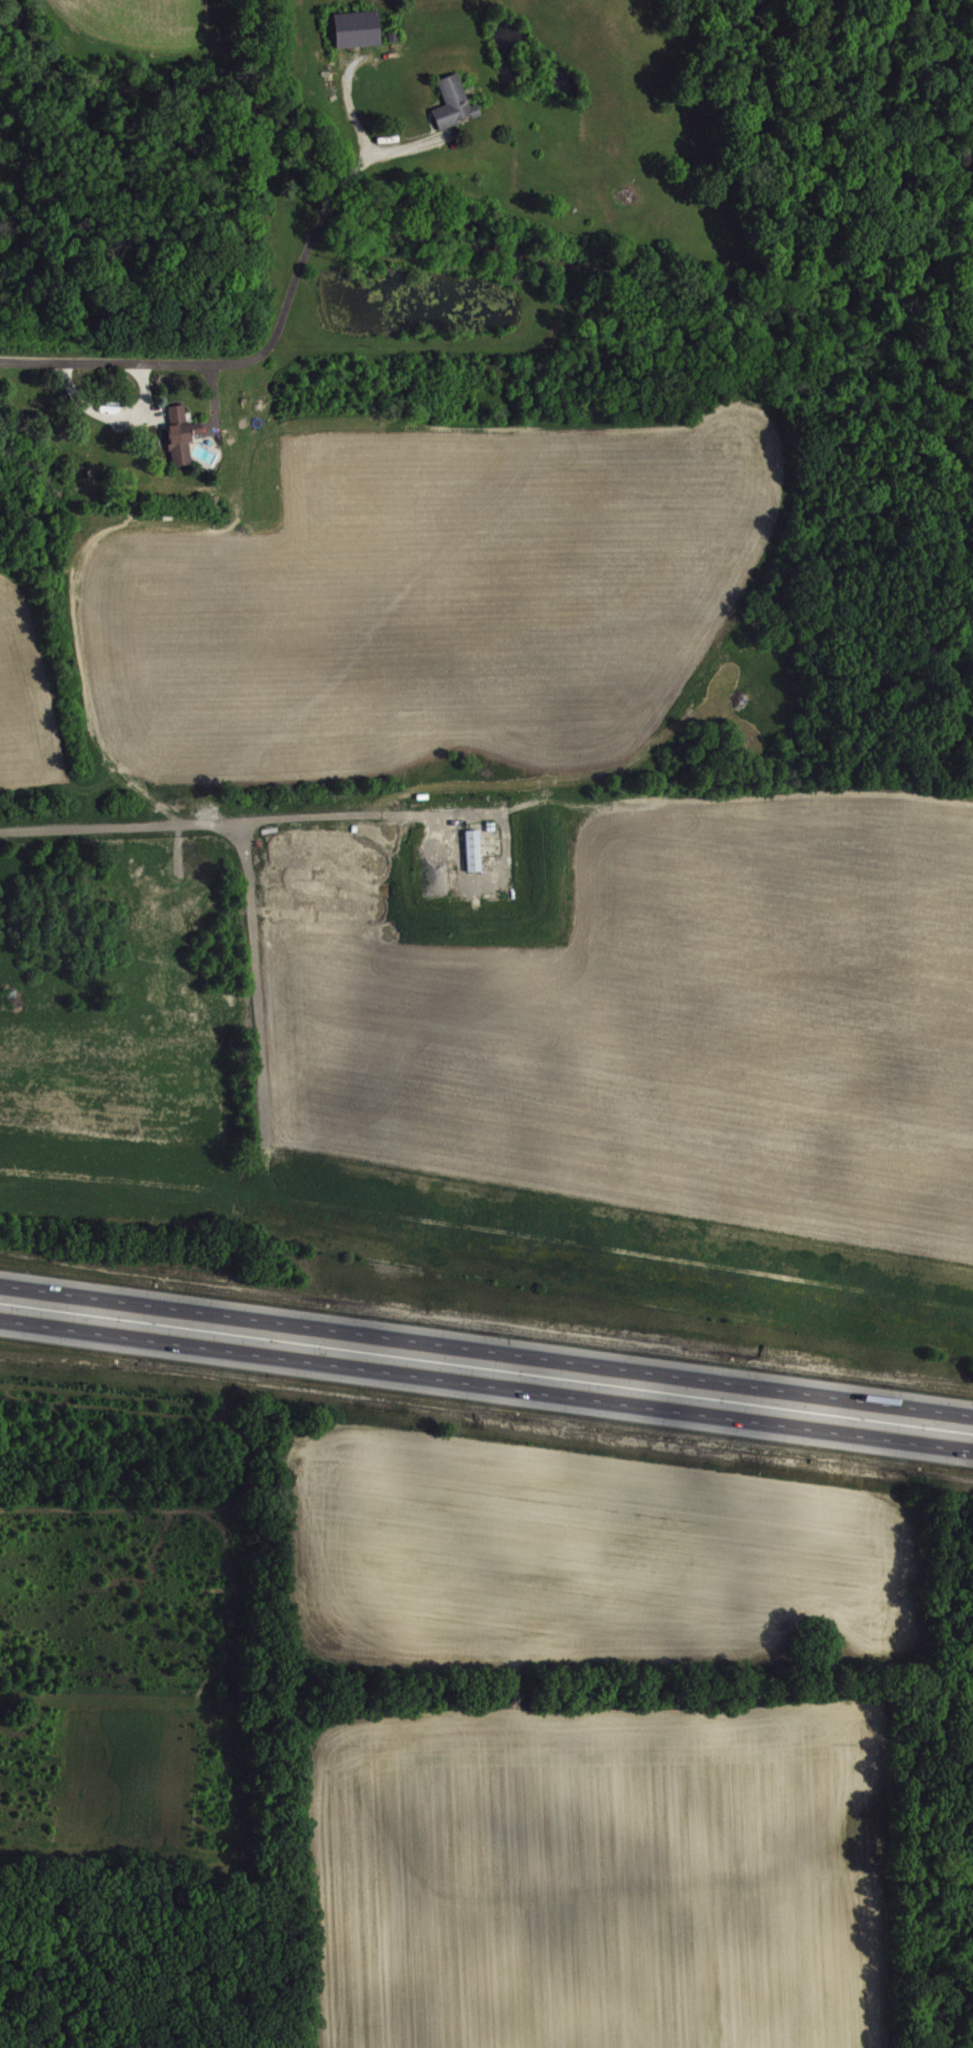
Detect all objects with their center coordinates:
building: (359, 30)
building: (455, 103)
road: (274, 339)
building: (183, 436)
road: (237, 823)
building: (475, 851)
road: (486, 1350)
road: (486, 1379)
crop: (583, 1557)
crop: (602, 1875)

